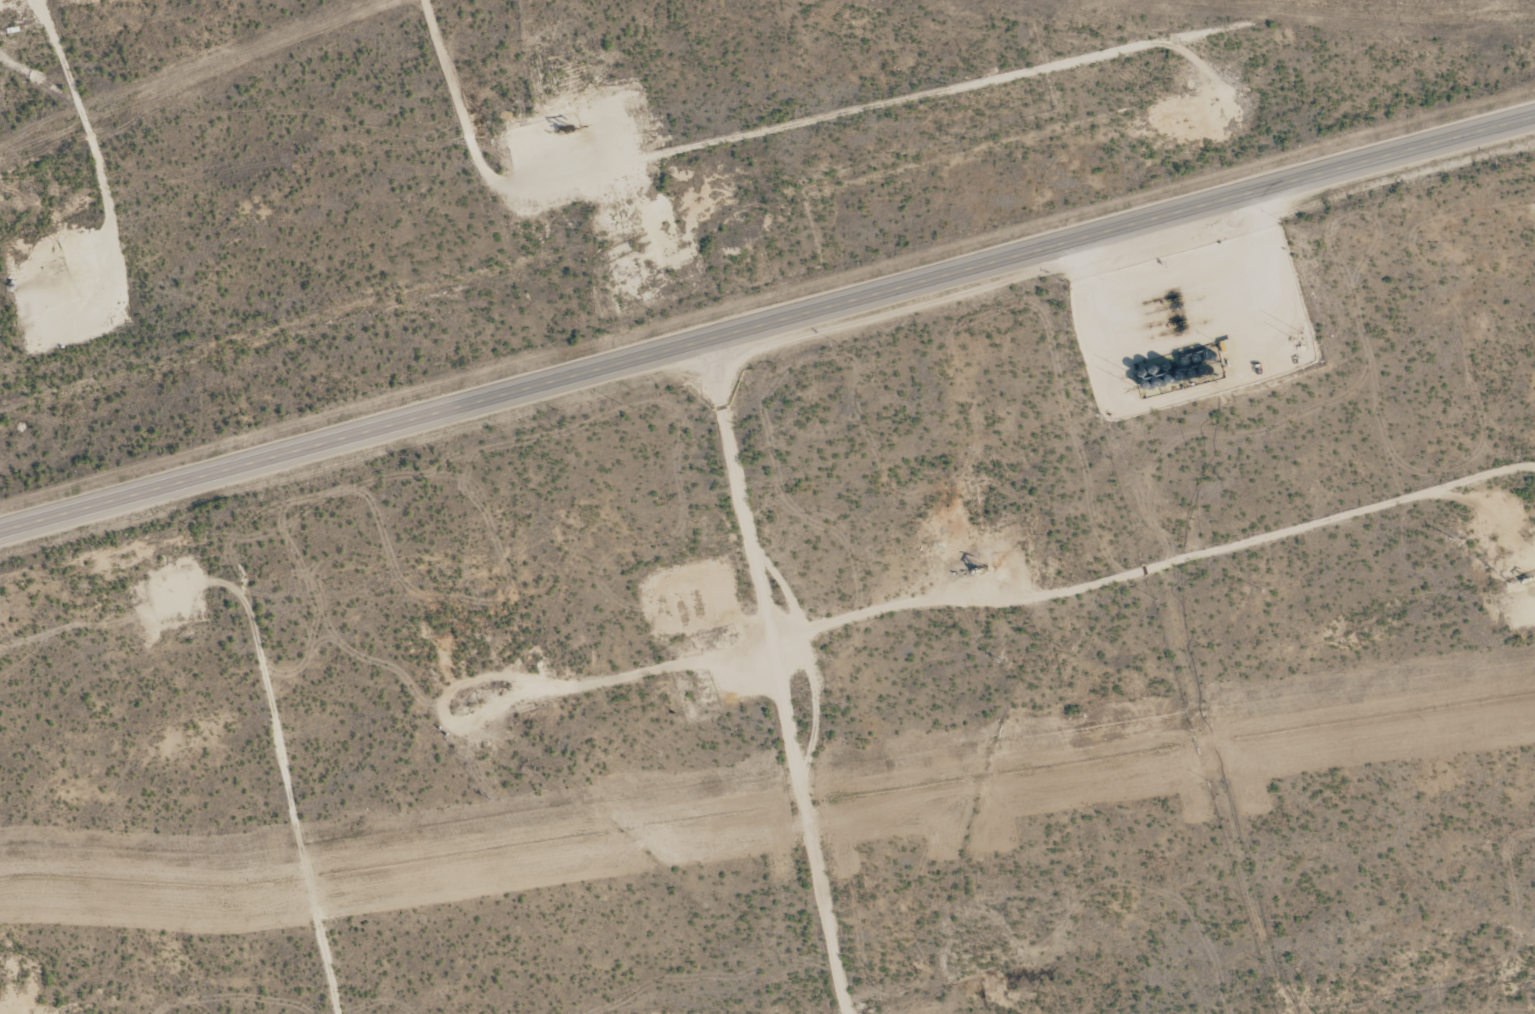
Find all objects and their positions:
road: (1498, 60)
silo: (1193, 309)
road: (767, 324)

